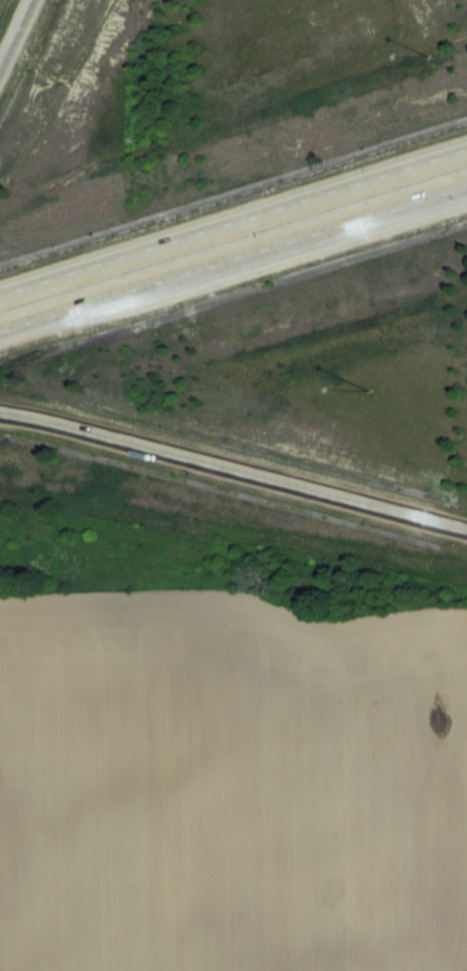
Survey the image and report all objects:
road: (16, 32)
road: (233, 222)
road: (233, 260)
road: (233, 467)
crop: (233, 791)

